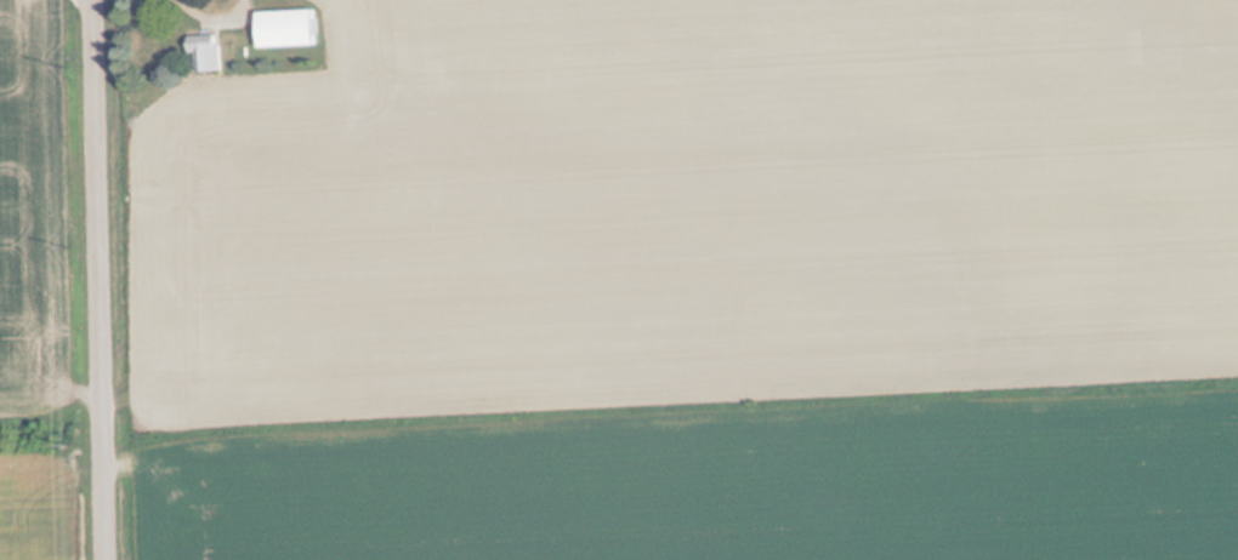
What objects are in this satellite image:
building: (278, 28)
building: (200, 51)
road: (103, 280)

